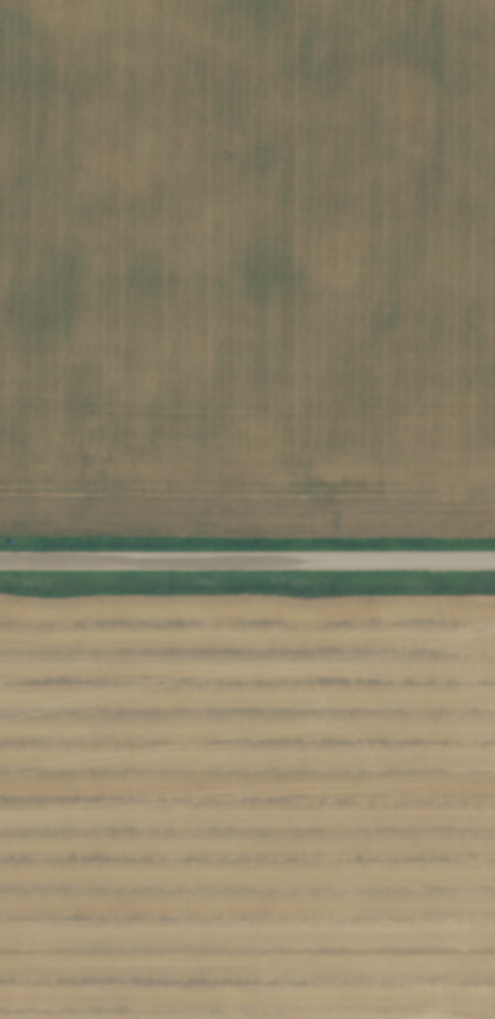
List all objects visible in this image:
road: (247, 561)

